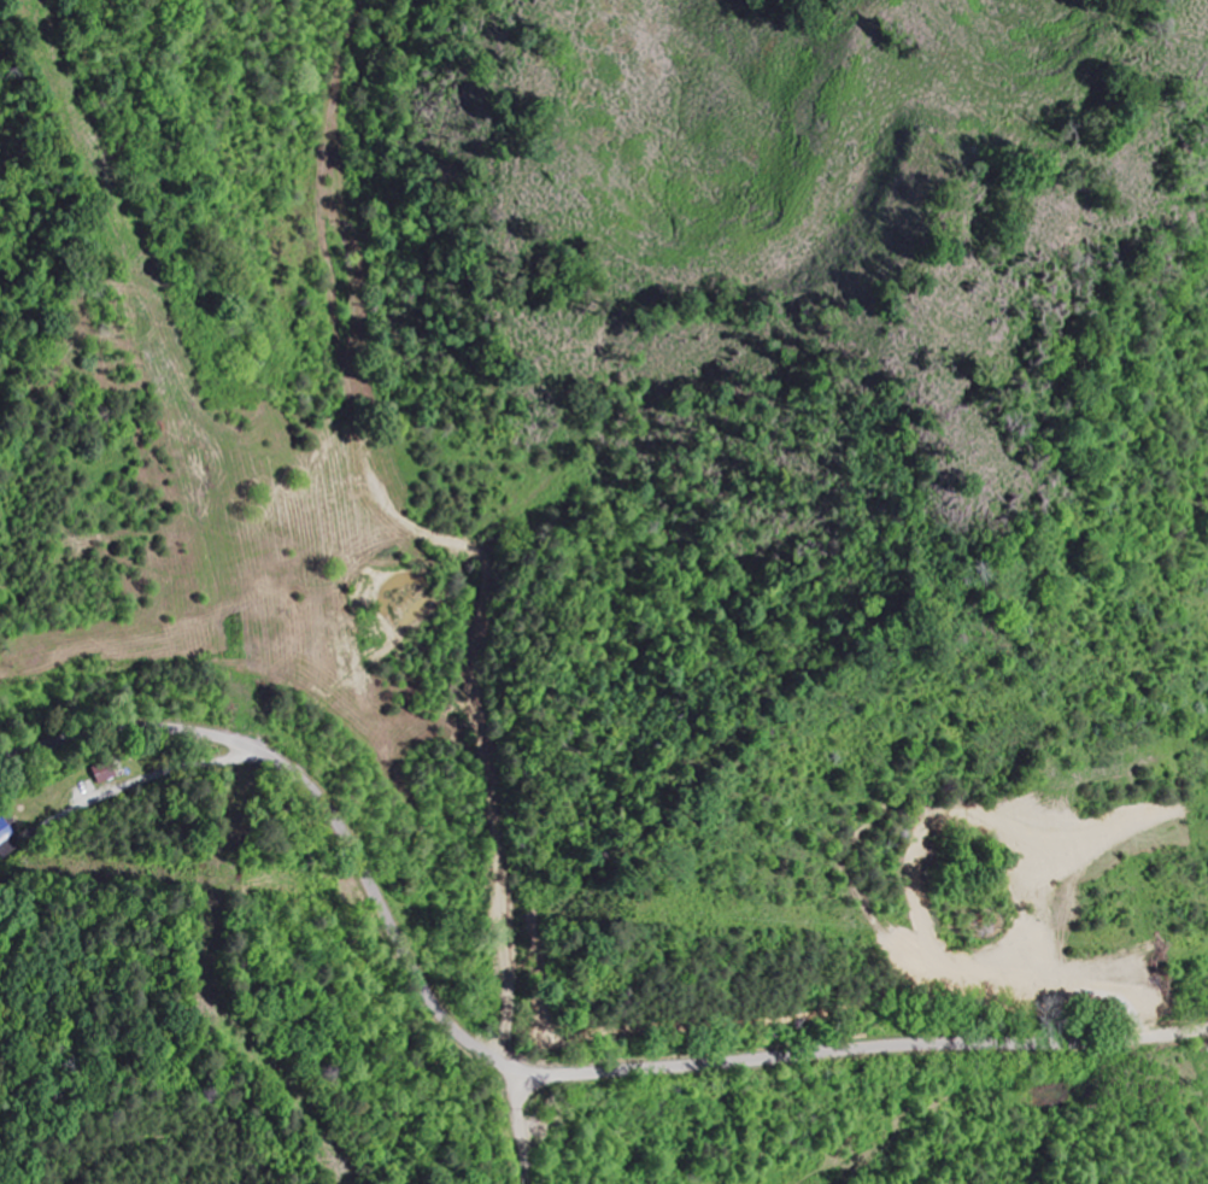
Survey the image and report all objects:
building: (104, 773)
building: (6, 838)
road: (522, 1068)

